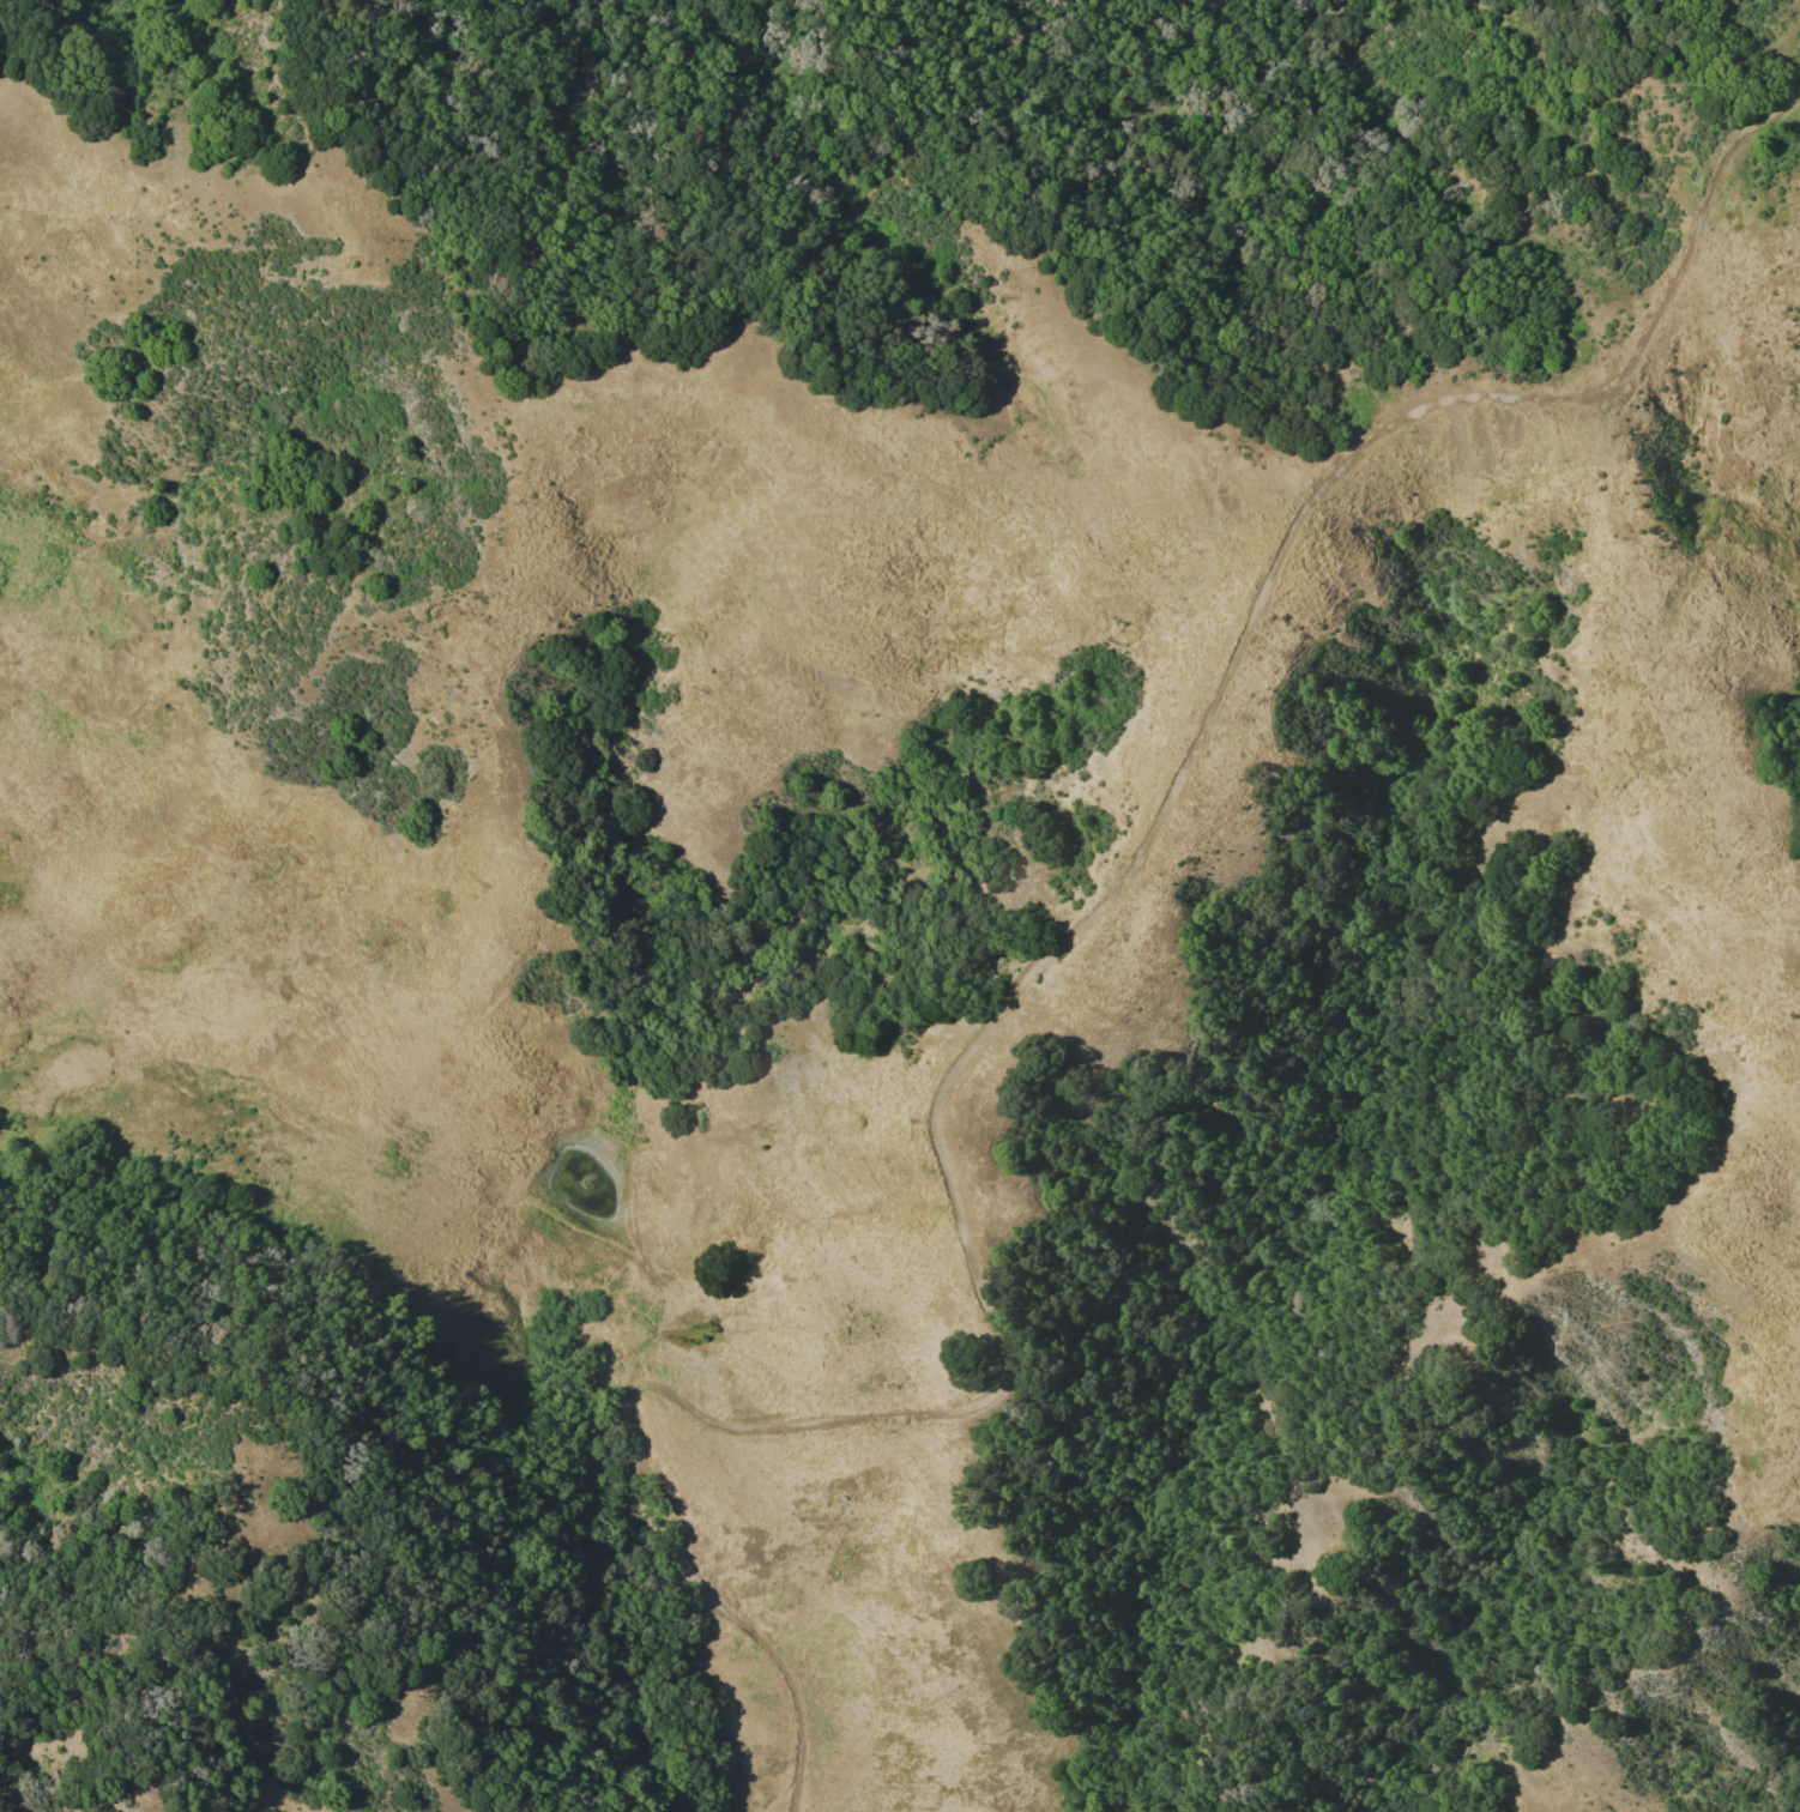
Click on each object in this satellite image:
road: (1014, 1008)

